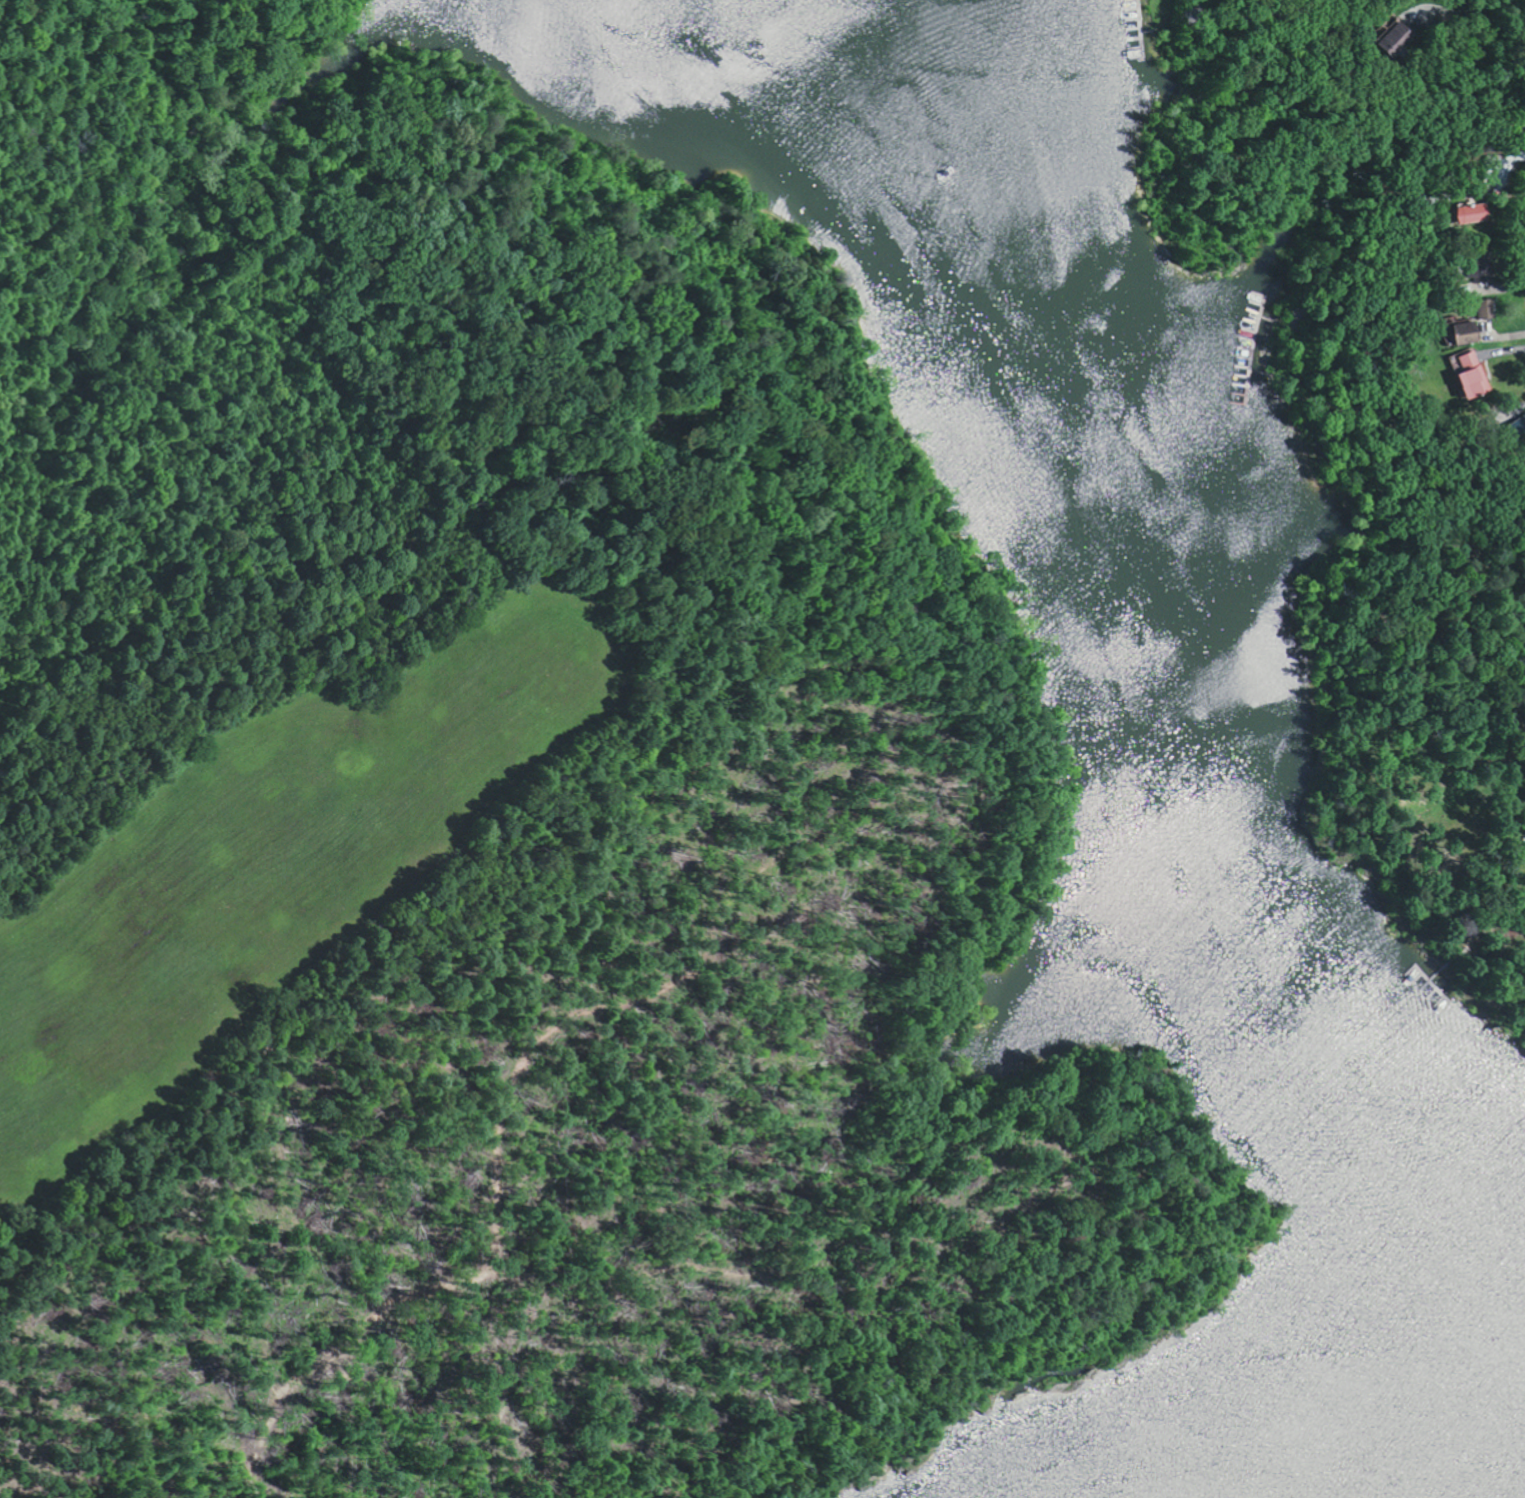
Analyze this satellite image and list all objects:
building: (1392, 36)
building: (1470, 213)
building: (1484, 267)
building: (1486, 308)
building: (1469, 338)
building: (1474, 374)
building: (1518, 427)

